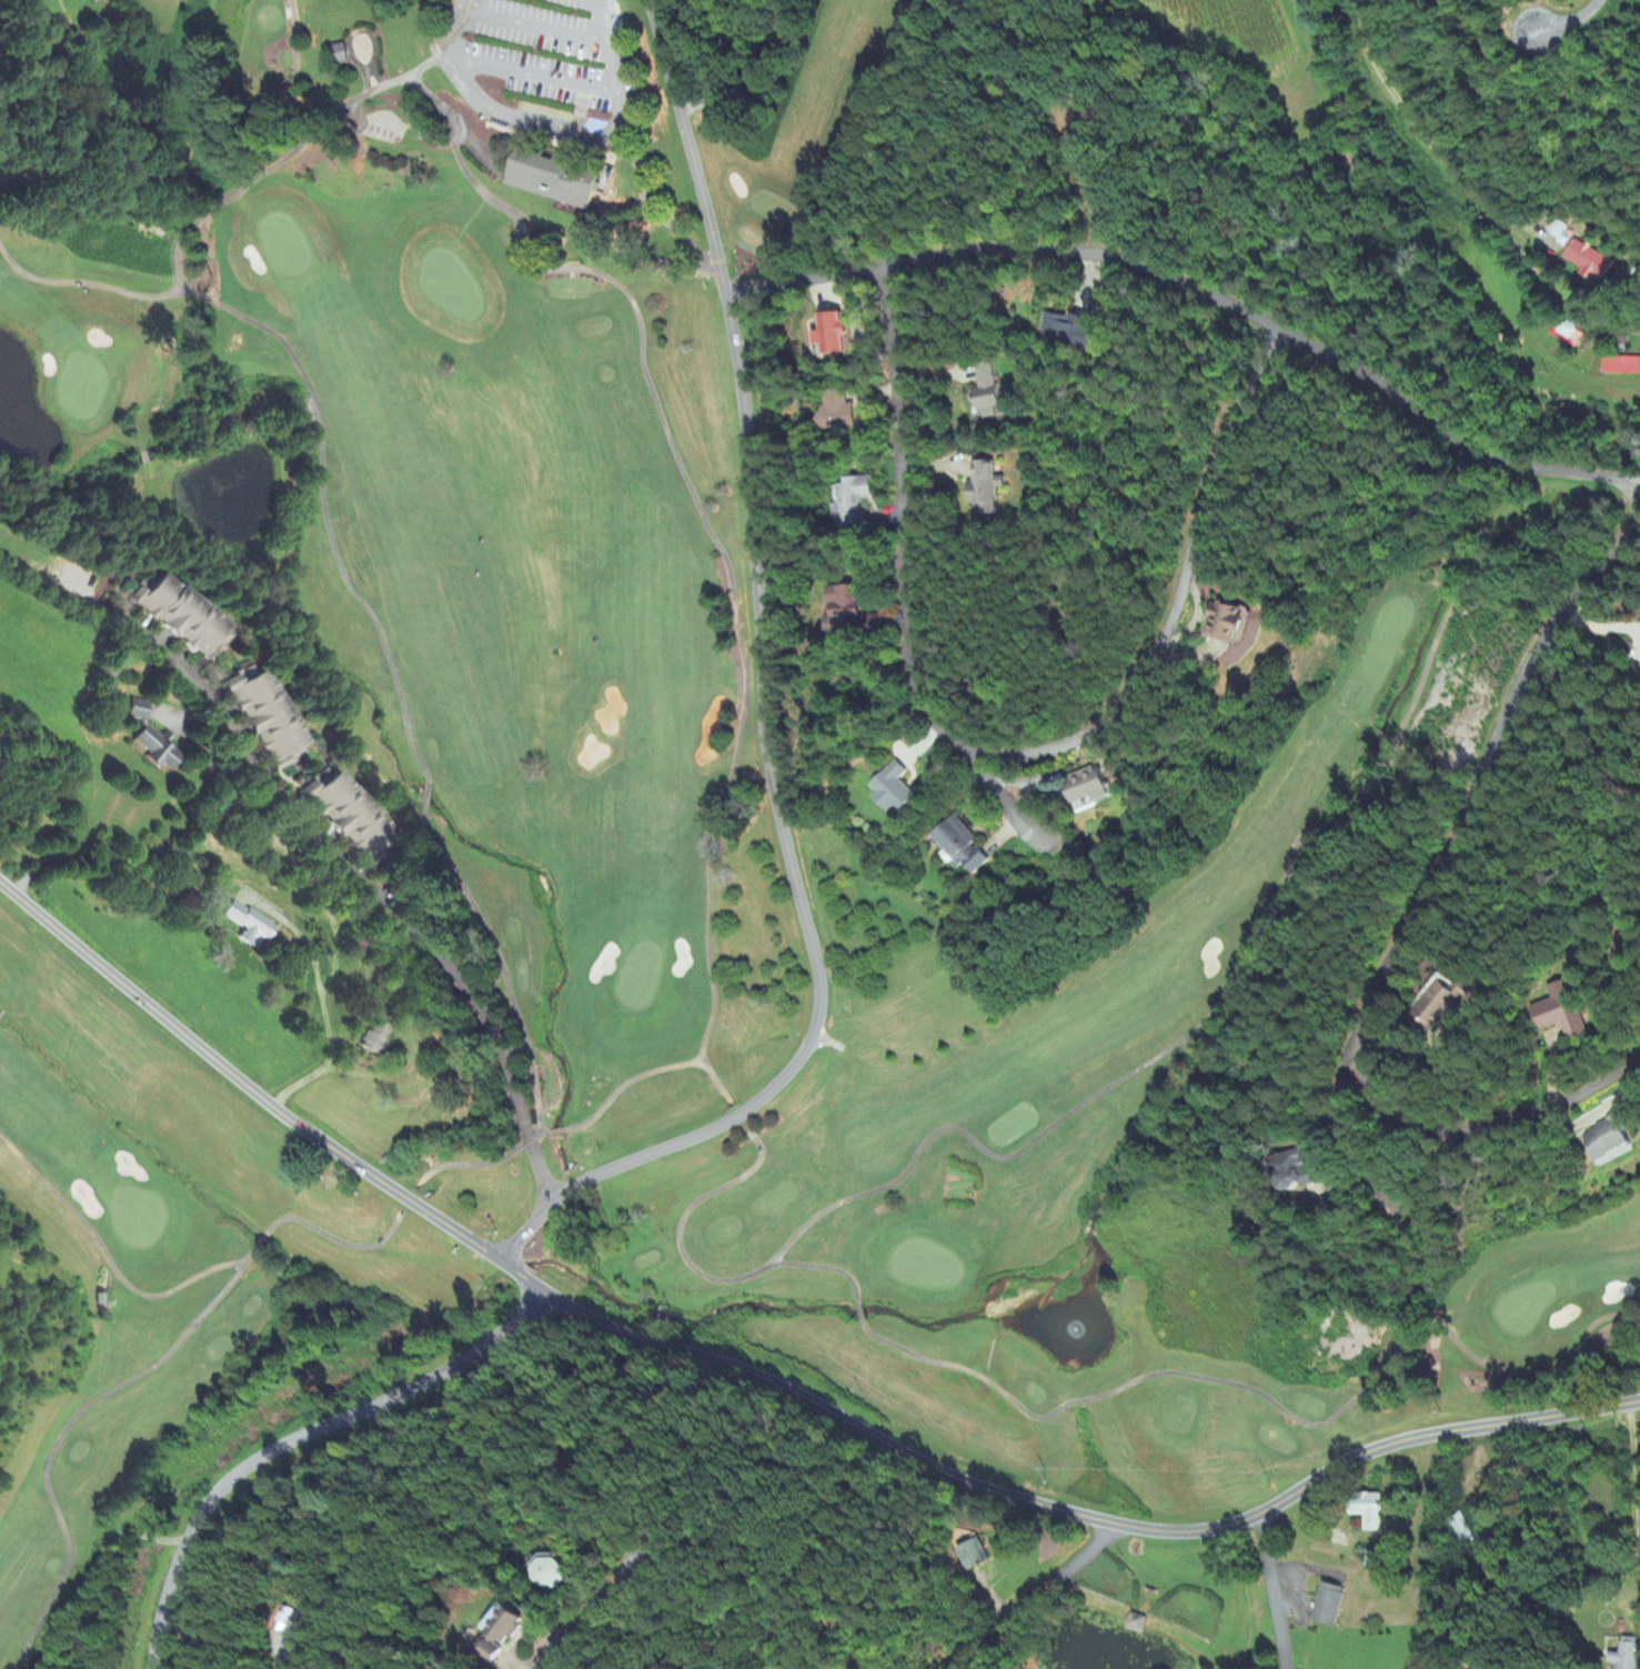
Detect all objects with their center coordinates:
road: (1568, 23)
road: (531, 29)
building: (341, 54)
parking lot: (539, 64)
road: (547, 80)
building: (569, 124)
road: (1429, 149)
building: (556, 175)
road: (1089, 200)
building: (1589, 262)
road: (1197, 296)
building: (1068, 332)
building: (1564, 332)
building: (832, 335)
building: (1620, 366)
building: (992, 394)
building: (838, 412)
building: (986, 490)
building: (852, 613)
building: (184, 616)
building: (1229, 623)
building: (141, 711)
road: (758, 711)
building: (270, 718)
building: (158, 750)
road: (1000, 753)
building: (1090, 786)
building: (895, 791)
road: (1004, 793)
building: (352, 818)
park: (758, 864)
road: (344, 868)
road: (1413, 914)
building: (251, 925)
building: (1447, 1003)
building: (1564, 1013)
building: (376, 1039)
road: (1344, 1128)
building: (1609, 1140)
building: (1296, 1173)
road: (766, 1383)
road: (296, 1437)
building: (1371, 1511)
road: (1634, 1514)
building: (1459, 1532)
building: (973, 1555)
building: (549, 1574)
road: (1270, 1590)
road: (1036, 1595)
building: (1329, 1606)
road: (587, 1609)
building: (285, 1621)
building: (1138, 1625)
building: (501, 1633)
building: (1622, 1656)

